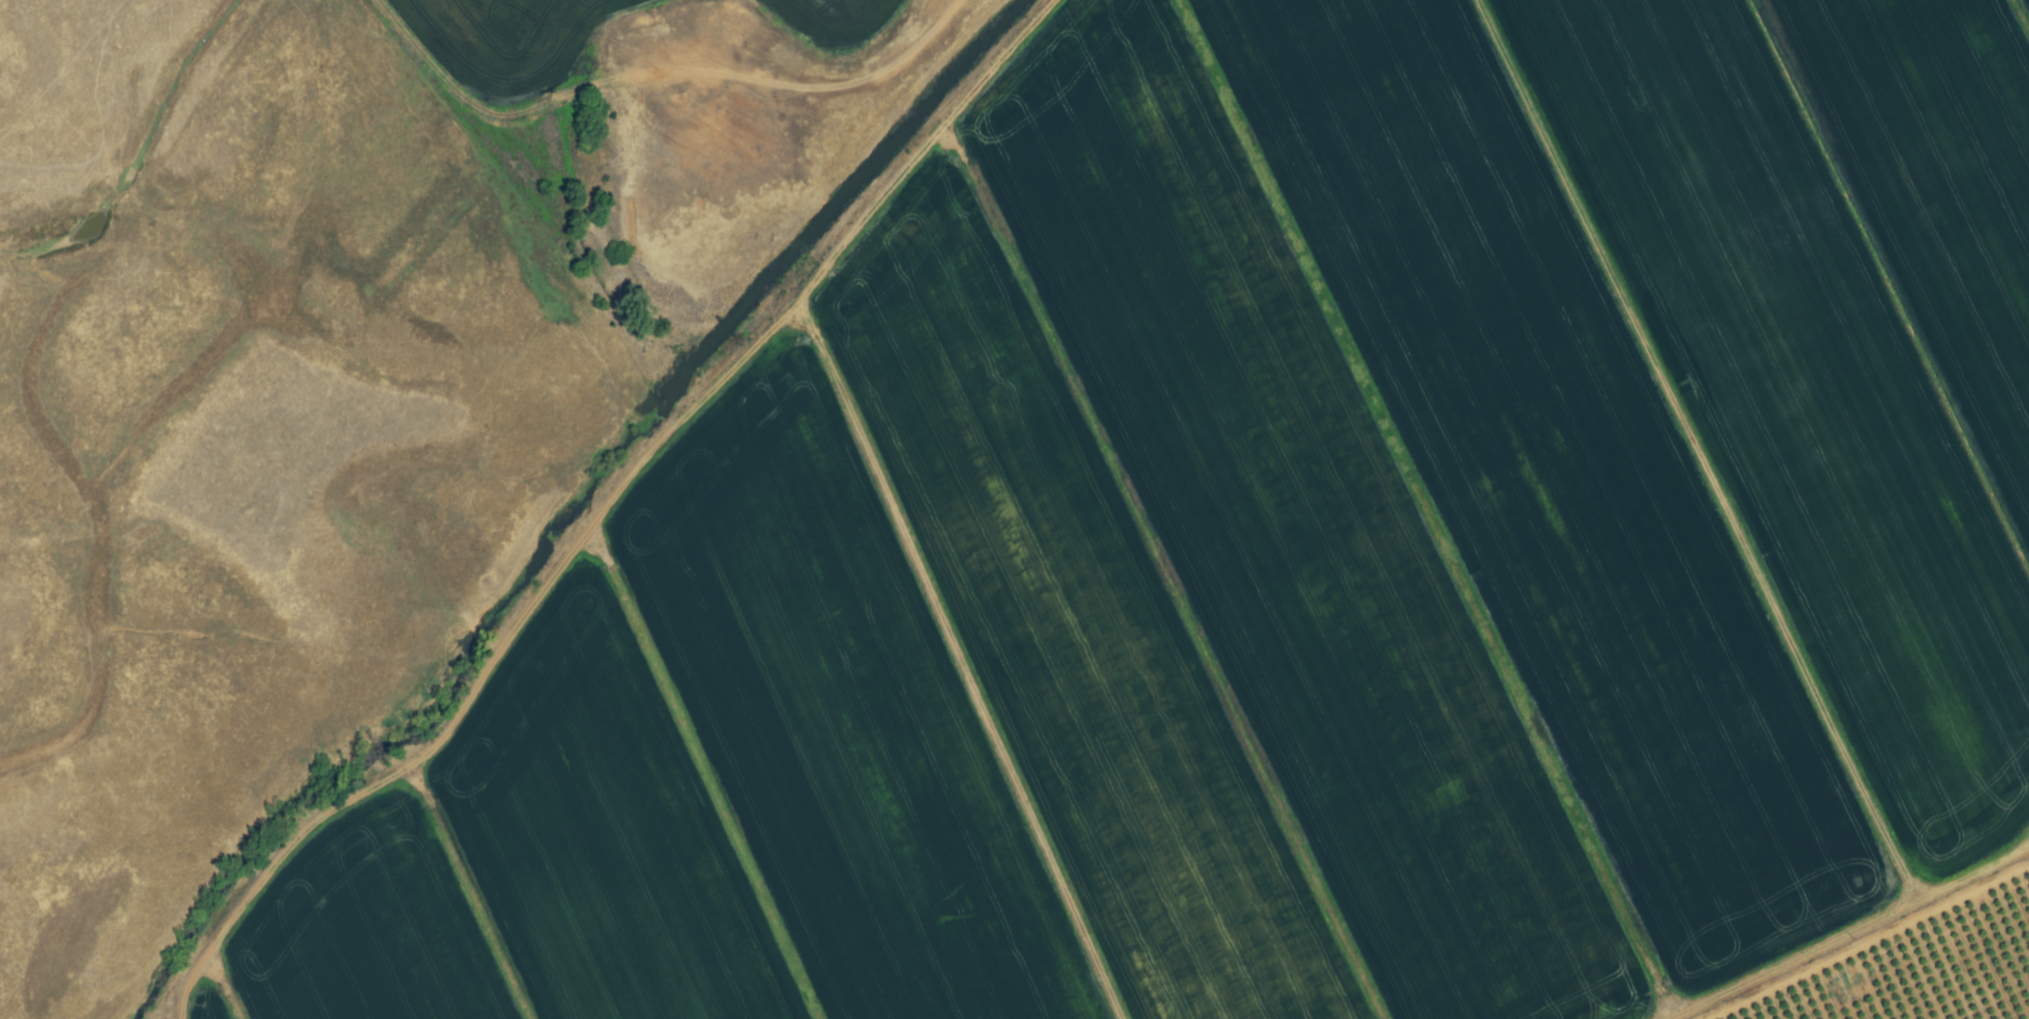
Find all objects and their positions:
road: (1286, 45)
road: (2012, 829)
road: (1809, 927)

